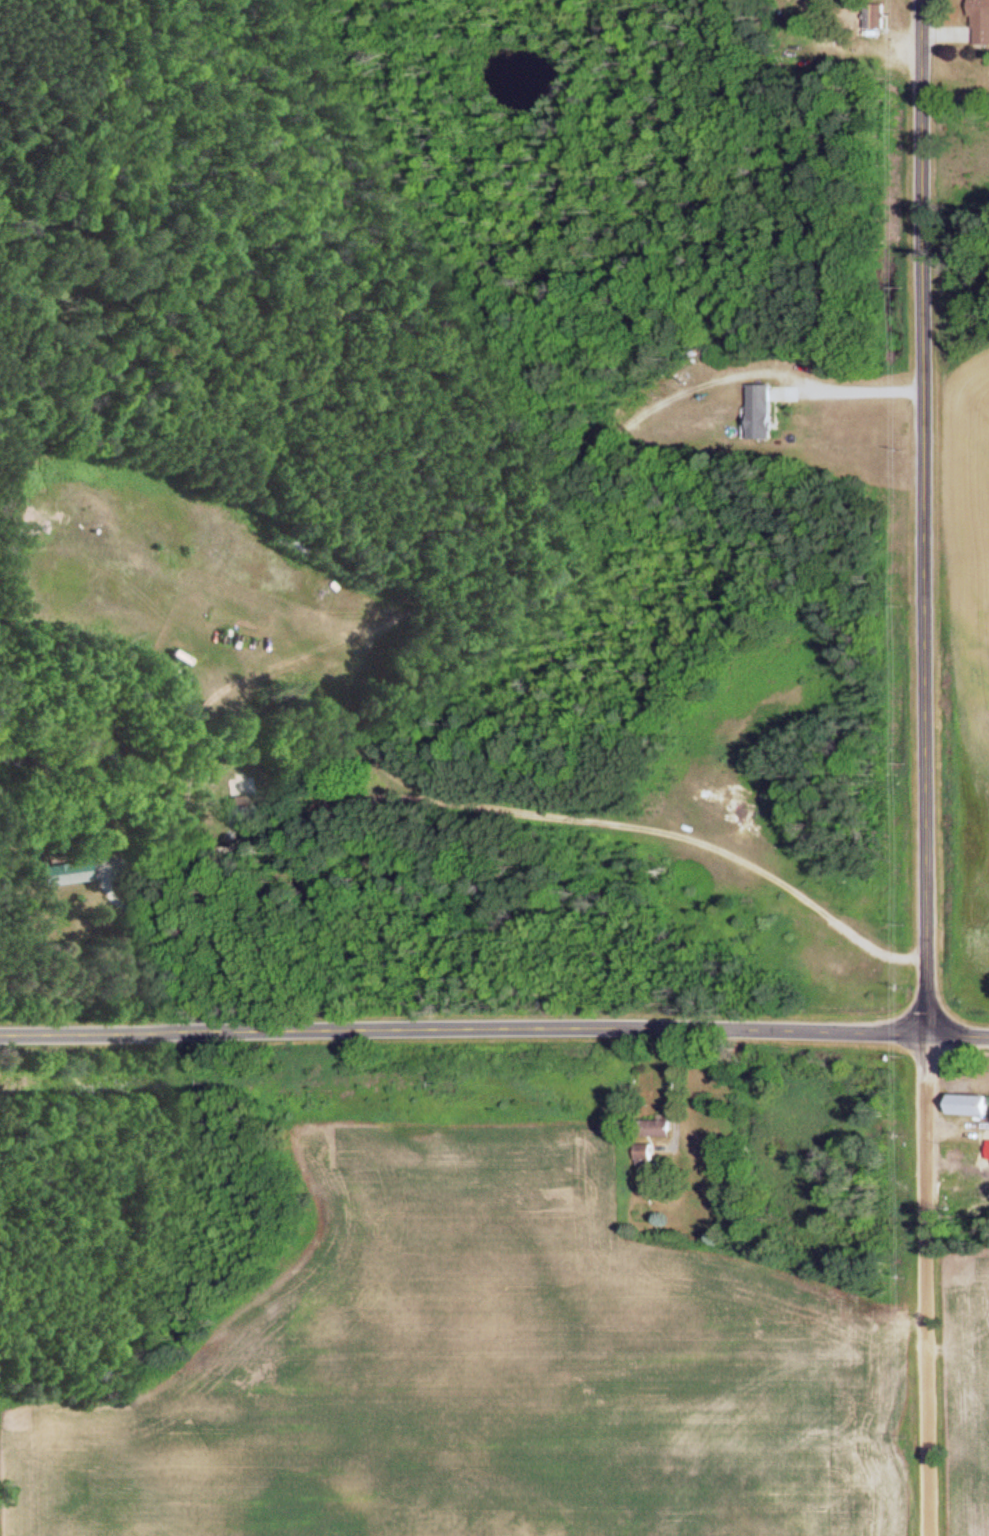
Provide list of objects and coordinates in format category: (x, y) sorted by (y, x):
building: (791, 5)
building: (981, 23)
building: (762, 414)
road: (922, 518)
building: (237, 798)
building: (64, 874)
road: (494, 1036)
building: (971, 1108)
building: (656, 1131)
building: (645, 1158)
road: (930, 1286)

